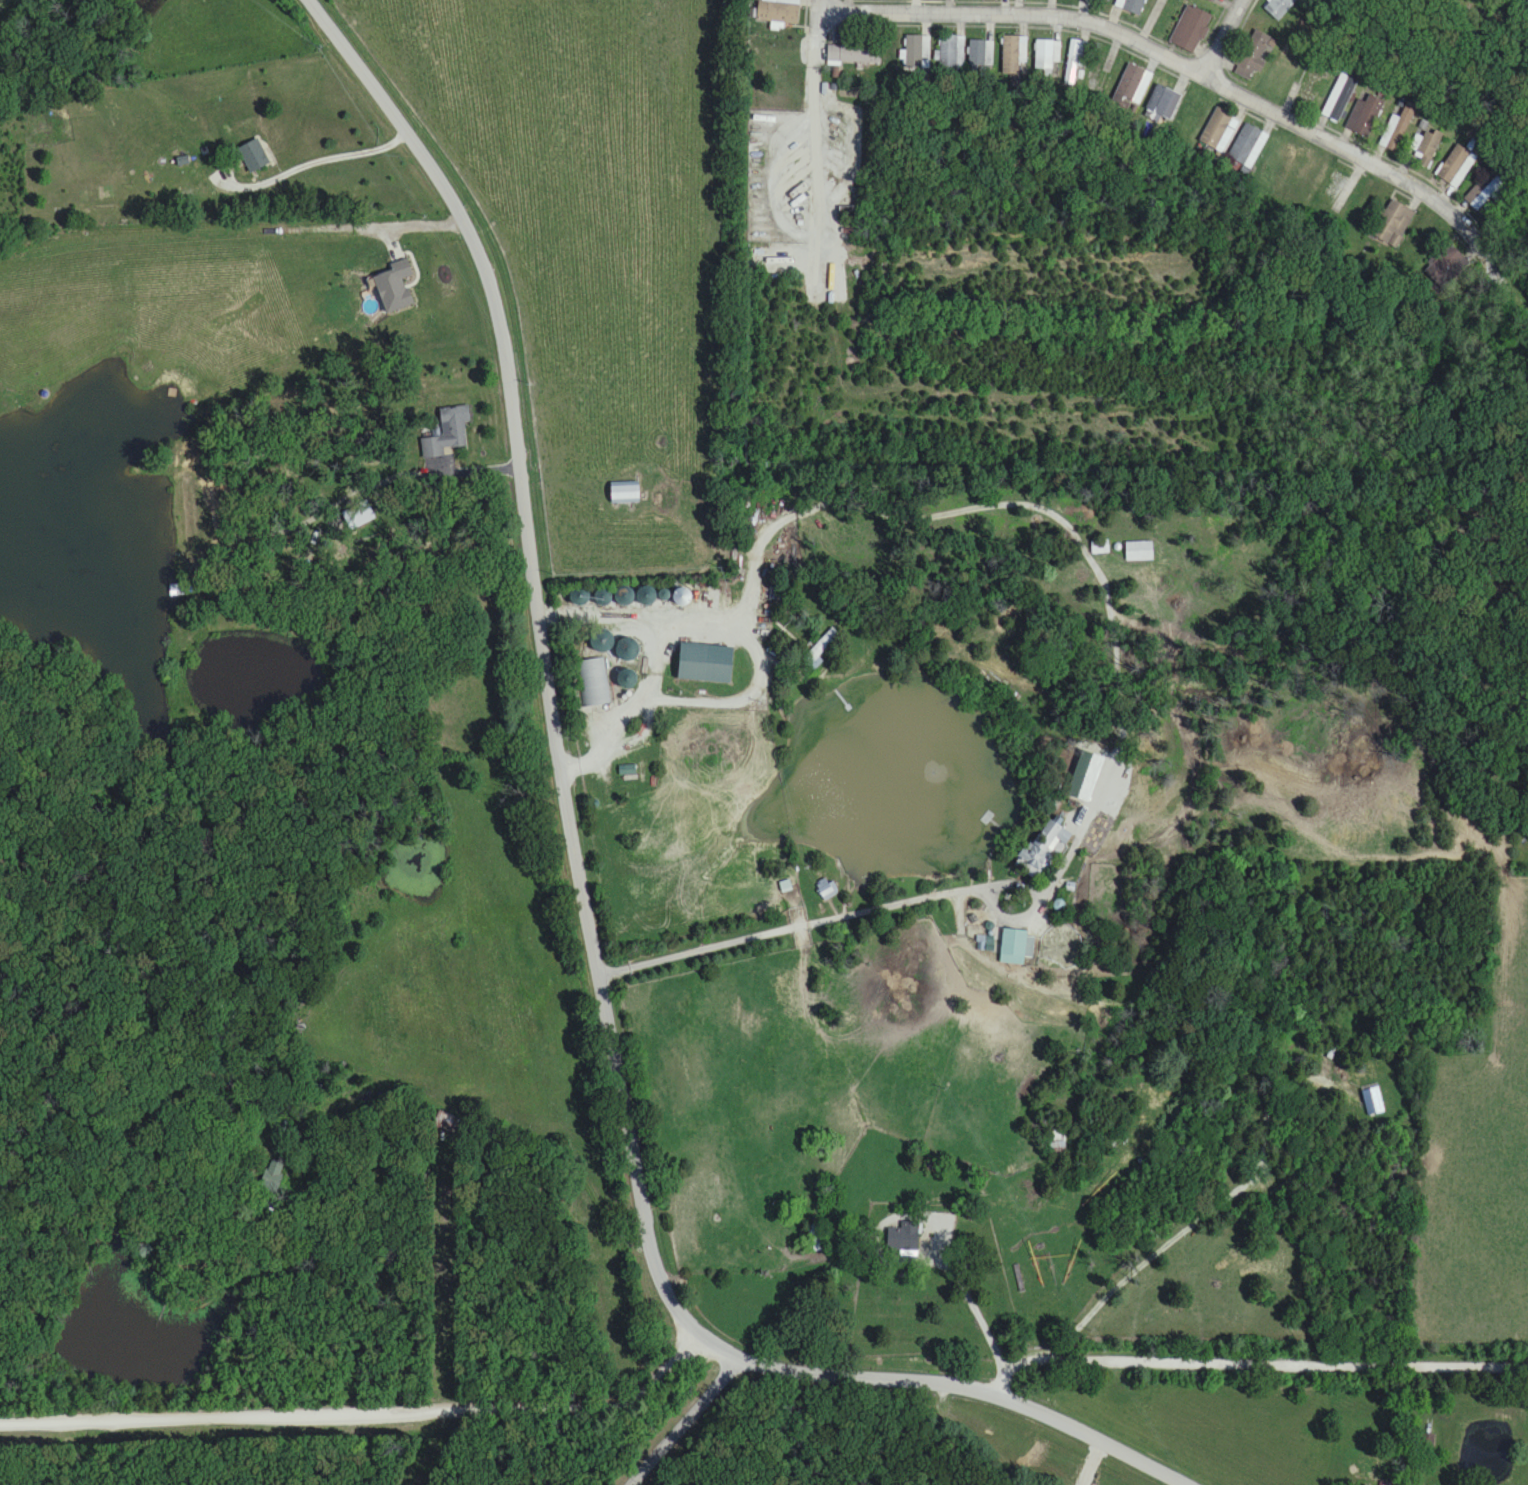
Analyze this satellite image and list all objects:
building: (1107, 0)
road: (818, 5)
building: (1131, 5)
building: (1279, 6)
building: (778, 12)
building: (1190, 28)
road: (1221, 35)
building: (917, 50)
building: (952, 51)
building: (853, 52)
building: (981, 52)
road: (1168, 53)
building: (1014, 54)
building: (1047, 54)
building: (1254, 54)
building: (1076, 58)
building: (1133, 84)
building: (1306, 86)
building: (1339, 97)
building: (1158, 101)
building: (1365, 114)
building: (1397, 128)
building: (1218, 129)
building: (1245, 144)
building: (1427, 145)
road: (820, 152)
building: (253, 154)
road: (314, 159)
building: (1455, 165)
building: (1340, 188)
building: (1486, 193)
building: (188, 196)
building: (1392, 223)
building: (1446, 266)
road: (1499, 273)
building: (448, 432)
building: (623, 493)
building: (1099, 547)
building: (1139, 551)
building: (181, 590)
building: (624, 597)
building: (601, 640)
building: (821, 649)
road: (655, 659)
building: (702, 662)
building: (592, 682)
road: (1114, 700)
road: (740, 701)
road: (1324, 705)
building: (1045, 848)
building: (827, 889)
road: (583, 907)
building: (1013, 946)
building: (1373, 1099)
building: (1057, 1142)
road: (581, 1213)
building: (901, 1237)
road: (1090, 1239)
building: (821, 1243)
road: (1116, 1290)
road: (974, 1305)
road: (1291, 1364)
road: (362, 1413)
road: (686, 1423)
road: (1092, 1464)

